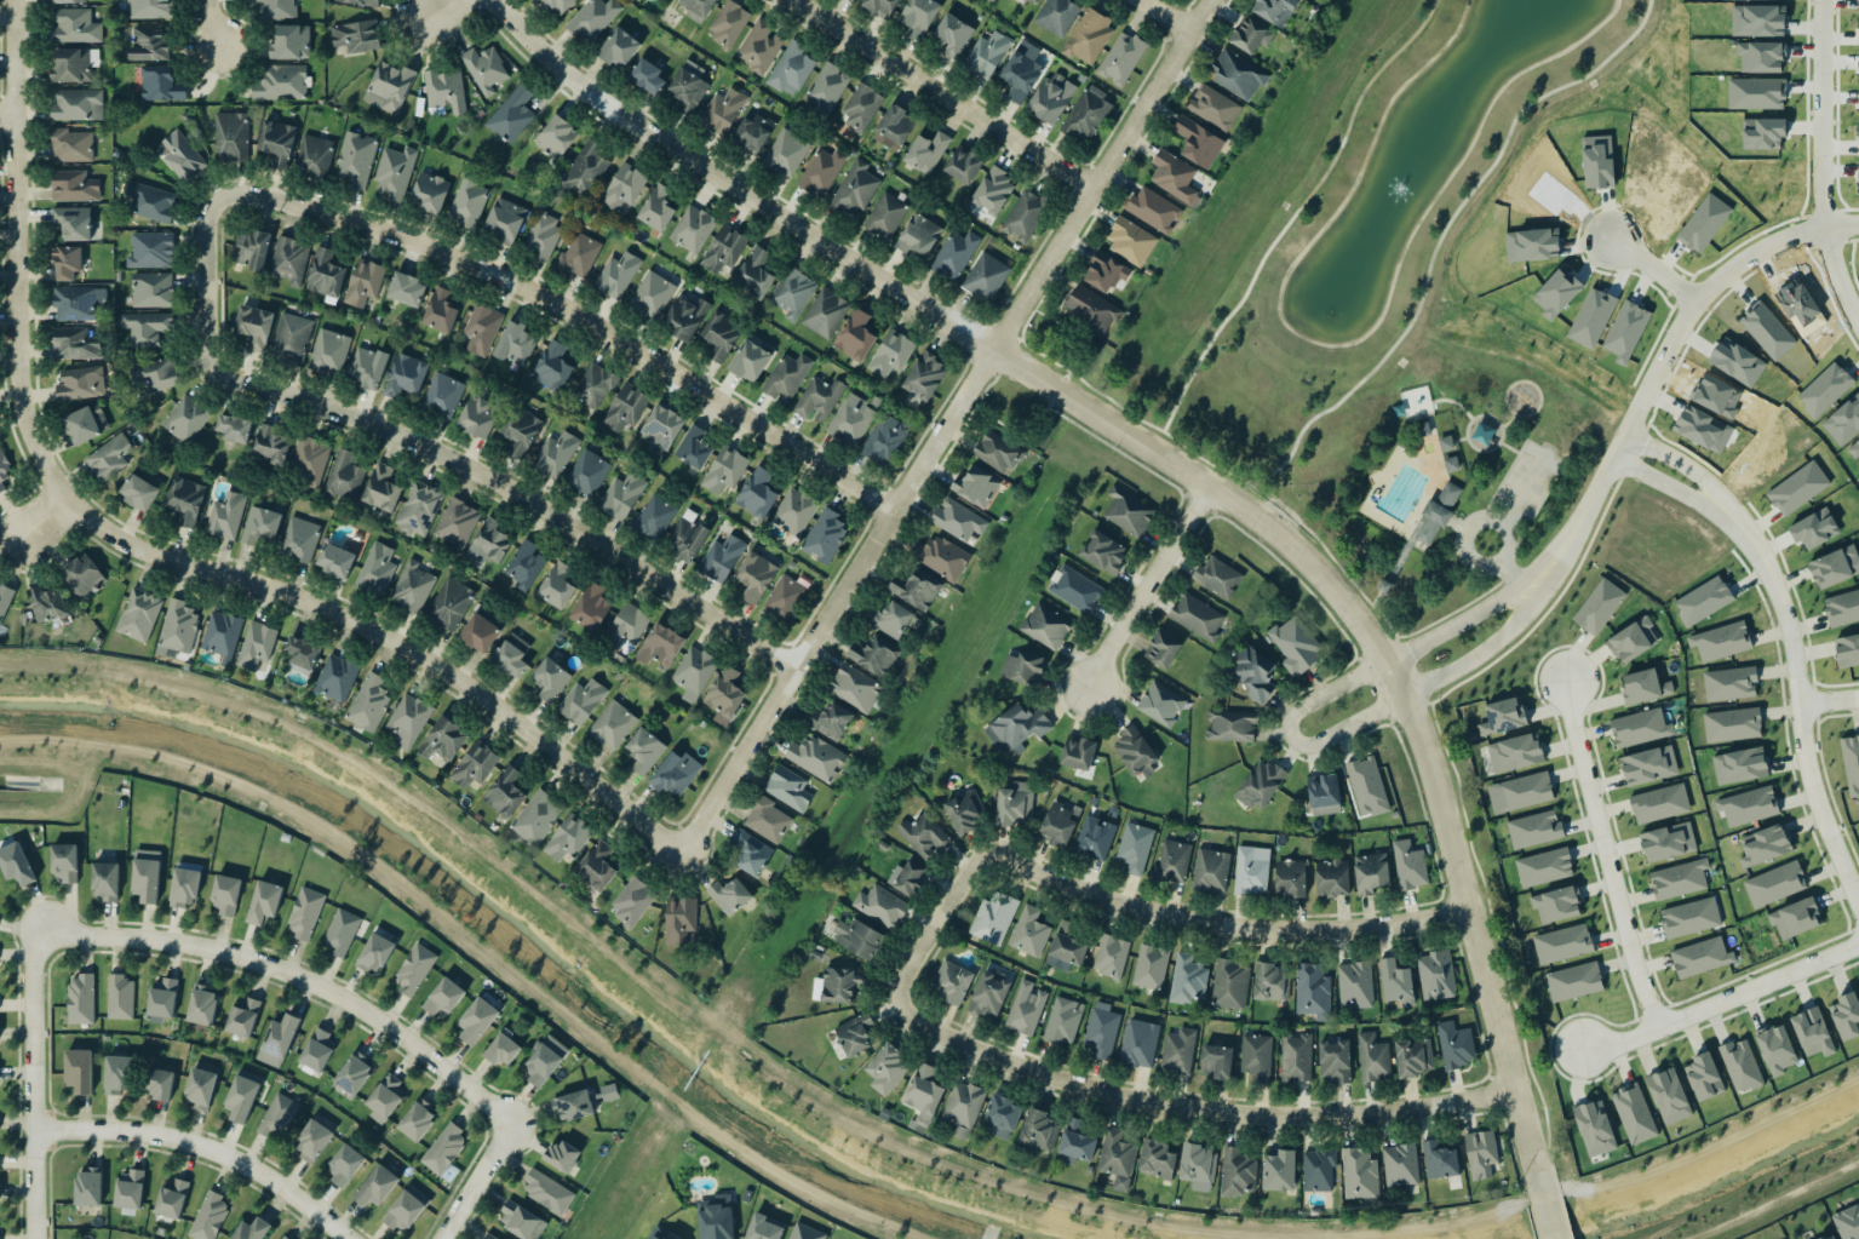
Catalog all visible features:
building: (992, 0)
building: (1037, 0)
building: (67, 1)
building: (560, 5)
building: (878, 6)
building: (148, 8)
building: (277, 8)
road: (442, 10)
building: (696, 10)
building: (1272, 10)
road: (1176, 15)
building: (1056, 16)
building: (918, 17)
building: (593, 18)
building: (728, 23)
road: (214, 24)
building: (75, 27)
building: (1858, 30)
building: (953, 34)
building: (1251, 34)
building: (356, 35)
building: (1088, 35)
building: (149, 42)
building: (291, 42)
building: (758, 45)
building: (618, 48)
building: (986, 53)
building: (1121, 57)
building: (1762, 57)
building: (71, 65)
building: (484, 69)
building: (791, 69)
building: (1021, 69)
building: (1238, 74)
building: (1858, 74)
building: (647, 75)
building: (280, 82)
building: (161, 84)
building: (389, 86)
building: (688, 86)
building: (826, 87)
building: (444, 90)
building: (1756, 93)
road: (947, 94)
building: (1050, 98)
building: (76, 104)
building: (860, 105)
building: (1213, 107)
building: (722, 111)
road: (1820, 111)
building: (1086, 114)
building: (511, 115)
road: (6, 116)
building: (1858, 116)
building: (893, 127)
building: (751, 133)
building: (1858, 133)
building: (230, 136)
building: (556, 136)
building: (277, 142)
building: (1199, 143)
fountain: (1421, 143)
building: (70, 145)
building: (926, 151)
building: (786, 153)
building: (314, 155)
building: (180, 156)
building: (356, 159)
building: (963, 164)
building: (1858, 167)
building: (821, 171)
building: (394, 172)
building: (585, 172)
building: (1174, 177)
road: (739, 184)
building: (73, 185)
building: (624, 187)
building: (854, 189)
building: (993, 190)
building: (429, 193)
building: (150, 201)
building: (467, 202)
building: (658, 208)
building: (1154, 210)
road: (1295, 213)
building: (884, 214)
building: (1023, 216)
park: (1358, 218)
building: (505, 219)
building: (75, 223)
building: (693, 228)
road: (1440, 234)
building: (918, 235)
building: (541, 237)
building: (1131, 241)
building: (252, 248)
building: (150, 249)
building: (723, 249)
building: (579, 254)
building: (953, 254)
building: (288, 259)
road: (1834, 260)
building: (67, 262)
building: (1106, 271)
road: (1652, 271)
building: (326, 274)
building: (616, 274)
building: (754, 274)
building: (986, 276)
building: (363, 282)
building: (407, 288)
building: (151, 289)
building: (792, 292)
building: (650, 294)
building: (76, 303)
building: (1091, 309)
building: (441, 310)
road: (583, 312)
building: (824, 312)
road: (1023, 325)
building: (254, 326)
building: (704, 326)
building: (145, 327)
building: (481, 328)
building: (855, 335)
building: (291, 338)
building: (73, 344)
building: (516, 344)
park: (1060, 345)
building: (329, 351)
building: (891, 352)
building: (748, 360)
building: (367, 366)
building: (552, 367)
building: (154, 374)
building: (925, 374)
building: (404, 375)
building: (786, 377)
road: (1651, 382)
building: (80, 383)
road: (1525, 383)
building: (593, 385)
building: (1824, 389)
road: (1052, 392)
building: (442, 395)
building: (817, 398)
building: (625, 407)
park: (1017, 413)
building: (477, 415)
road: (1481, 417)
building: (185, 418)
building: (851, 419)
building: (1843, 420)
road: (1507, 421)
road: (941, 423)
building: (85, 424)
building: (661, 426)
building: (234, 428)
building: (1419, 429)
building: (522, 430)
building: (885, 440)
road: (1457, 441)
building: (1444, 442)
road: (431, 444)
building: (271, 446)
building: (694, 448)
building: (1854, 448)
building: (998, 452)
road: (1515, 453)
building: (555, 454)
building: (109, 457)
building: (309, 460)
road: (1675, 460)
road: (1207, 463)
park: (1439, 463)
building: (1448, 463)
building: (725, 469)
building: (586, 472)
building: (343, 475)
building: (5, 476)
parking lot: (1525, 481)
road: (1207, 483)
road: (1660, 483)
building: (976, 486)
road: (1521, 486)
building: (380, 488)
building: (1797, 488)
building: (139, 492)
building: (757, 493)
building: (621, 495)
building: (185, 499)
building: (418, 509)
building: (794, 511)
building: (1435, 511)
building: (1128, 512)
road: (51, 515)
building: (225, 515)
building: (654, 516)
road: (1464, 516)
building: (958, 520)
building: (457, 523)
building: (260, 524)
building: (1814, 528)
building: (825, 535)
road: (1461, 535)
building: (299, 538)
building: (687, 539)
road: (1408, 540)
building: (492, 541)
road: (160, 550)
building: (1103, 551)
building: (721, 557)
building: (940, 557)
building: (335, 560)
building: (1835, 566)
building: (375, 568)
road: (1513, 574)
building: (84, 575)
building: (756, 575)
building: (1217, 577)
road: (1148, 585)
building: (412, 586)
building: (558, 586)
building: (1073, 587)
building: (916, 589)
building: (5, 598)
building: (785, 598)
building: (1703, 601)
building: (449, 603)
building: (46, 604)
building: (591, 606)
building: (1599, 606)
building: (1842, 607)
building: (138, 614)
building: (1197, 615)
road: (1441, 615)
building: (890, 619)
road: (1455, 624)
building: (1045, 625)
building: (626, 626)
building: (177, 629)
building: (478, 632)
building: (220, 635)
building: (1633, 639)
building: (1720, 641)
building: (256, 644)
building: (660, 646)
building: (1296, 646)
building: (1163, 649)
building: (1847, 650)
building: (302, 654)
building: (512, 654)
building: (874, 655)
building: (1023, 667)
building: (693, 672)
building: (1253, 673)
building: (335, 677)
building: (550, 679)
building: (1729, 683)
building: (1643, 686)
building: (855, 688)
road: (1421, 688)
building: (725, 693)
road: (1327, 693)
road: (1797, 695)
building: (581, 700)
road: (1829, 700)
building: (368, 702)
building: (1160, 704)
building: (1503, 716)
building: (407, 721)
building: (831, 721)
building: (612, 724)
building: (1230, 724)
building: (1732, 724)
building: (1017, 727)
building: (1639, 727)
building: (443, 739)
building: (643, 750)
building: (1135, 751)
building: (1078, 752)
building: (1515, 752)
building: (816, 757)
building: (1851, 762)
building: (474, 764)
building: (1739, 764)
building: (1648, 765)
building: (676, 773)
building: (1260, 784)
building: (1366, 784)
building: (787, 787)
building: (505, 792)
building: (1520, 792)
building: (1324, 795)
building: (1015, 803)
building: (1659, 803)
building: (1748, 805)
building: (965, 811)
building: (537, 818)
building: (768, 820)
building: (1058, 822)
building: (1534, 828)
building: (925, 834)
building: (1094, 837)
building: (567, 838)
building: (1668, 842)
building: (1765, 845)
building: (1135, 847)
building: (751, 853)
road: (1607, 855)
building: (1171, 860)
building: (64, 861)
building: (15, 862)
building: (1408, 865)
building: (597, 866)
building: (1544, 866)
building: (1210, 870)
building: (1251, 870)
building: (1371, 872)
building: (145, 874)
building: (907, 877)
building: (1290, 878)
building: (1332, 878)
building: (1679, 878)
building: (105, 881)
building: (1774, 883)
building: (184, 887)
building: (225, 894)
building: (729, 894)
building: (632, 900)
building: (264, 901)
road: (1140, 904)
building: (1556, 904)
building: (880, 906)
building: (305, 912)
building: (1689, 917)
building: (679, 918)
building: (993, 918)
building: (1795, 918)
building: (340, 931)
building: (1028, 931)
road: (1469, 934)
building: (857, 937)
building: (1562, 943)
building: (375, 952)
building: (1066, 952)
building: (1111, 956)
building: (1700, 957)
building: (1151, 966)
building: (414, 969)
building: (1436, 975)
building: (1187, 979)
road: (294, 981)
building: (1270, 981)
building: (1573, 981)
building: (952, 982)
building: (1396, 982)
building: (1229, 983)
building: (838, 985)
building: (1354, 985)
building: (1312, 991)
building: (989, 994)
building: (119, 997)
building: (443, 997)
building: (80, 999)
building: (161, 999)
road: (1722, 1000)
building: (202, 1004)
building: (1025, 1008)
building: (1847, 1015)
building: (243, 1016)
building: (477, 1020)
building: (1062, 1020)
building: (1101, 1029)
building: (1812, 1032)
building: (855, 1034)
building: (277, 1039)
building: (1138, 1043)
building: (1455, 1044)
building: (317, 1049)
building: (501, 1049)
building: (1775, 1049)
building: (1178, 1050)
building: (1296, 1056)
building: (1413, 1056)
building: (1256, 1057)
building: (1373, 1057)
building: (544, 1060)
building: (1335, 1060)
building: (1216, 1061)
building: (1740, 1065)
building: (887, 1068)
building: (79, 1069)
building: (352, 1073)
building: (117, 1074)
building: (1703, 1077)
building: (159, 1083)
road: (31, 1086)
building: (200, 1088)
building: (242, 1095)
building: (1669, 1095)
building: (923, 1096)
building: (385, 1097)
building: (573, 1105)
building: (963, 1107)
road: (1198, 1107)
building: (1633, 1113)
building: (277, 1115)
building: (1000, 1117)
building: (417, 1120)
building: (1594, 1128)
building: (1039, 1129)
building: (312, 1140)
building: (1075, 1145)
building: (444, 1148)
road: (199, 1151)
building: (1480, 1153)
building: (562, 1155)
building: (1117, 1158)
building: (1157, 1158)
building: (1439, 1160)
building: (344, 1164)
building: (1198, 1164)
building: (1400, 1164)
building: (1318, 1169)
building: (1279, 1170)
building: (1237, 1172)
building: (1359, 1172)
road: (474, 1182)
building: (87, 1186)
building: (375, 1186)
building: (128, 1188)
building: (547, 1192)
building: (171, 1198)
building: (406, 1209)
building: (208, 1216)
building: (717, 1218)
building: (521, 1221)
building: (1847, 1222)
road: (1547, 1224)
building: (764, 1227)
building: (252, 1229)
building: (805, 1232)
building: (489, 1235)
building: (671, 1235)
building: (655, 1237)
building: (1828, 1237)
building: (283, 1238)

